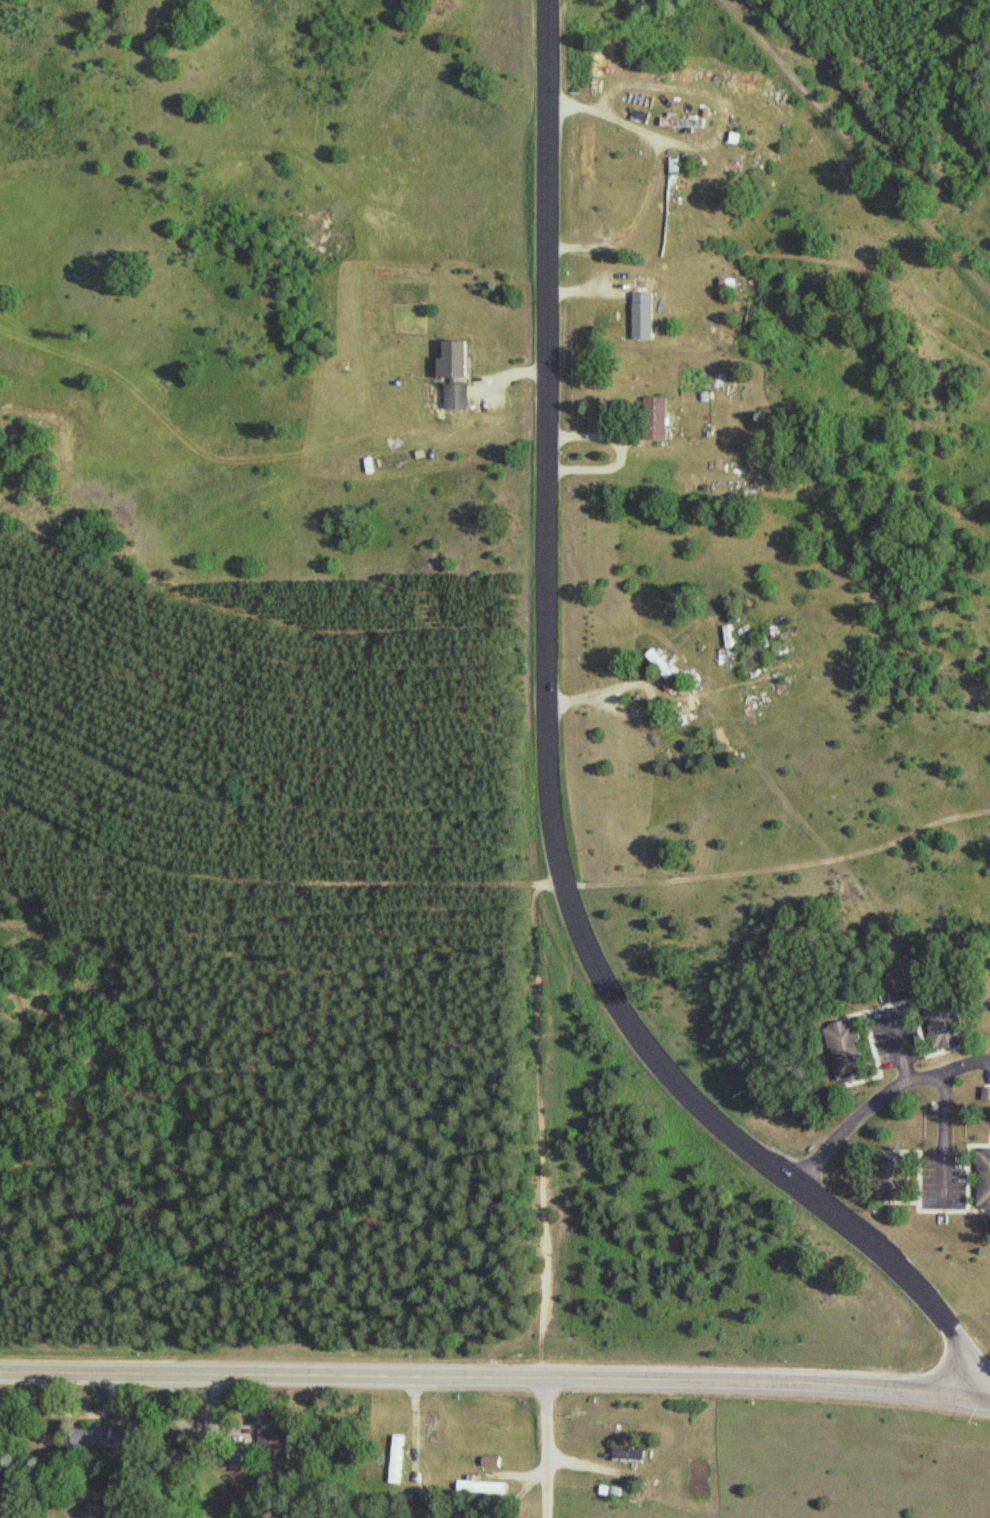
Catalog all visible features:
building: (683, 121)
road: (855, 146)
building: (642, 316)
building: (457, 375)
building: (654, 418)
building: (664, 668)
road: (548, 782)
building: (944, 1022)
building: (847, 1050)
road: (876, 1097)
building: (893, 1176)
building: (984, 1177)
road: (495, 1374)
building: (99, 1439)
building: (279, 1444)
road: (546, 1446)
building: (627, 1454)
building: (242, 1455)
building: (396, 1458)
building: (1, 1459)
building: (481, 1487)

